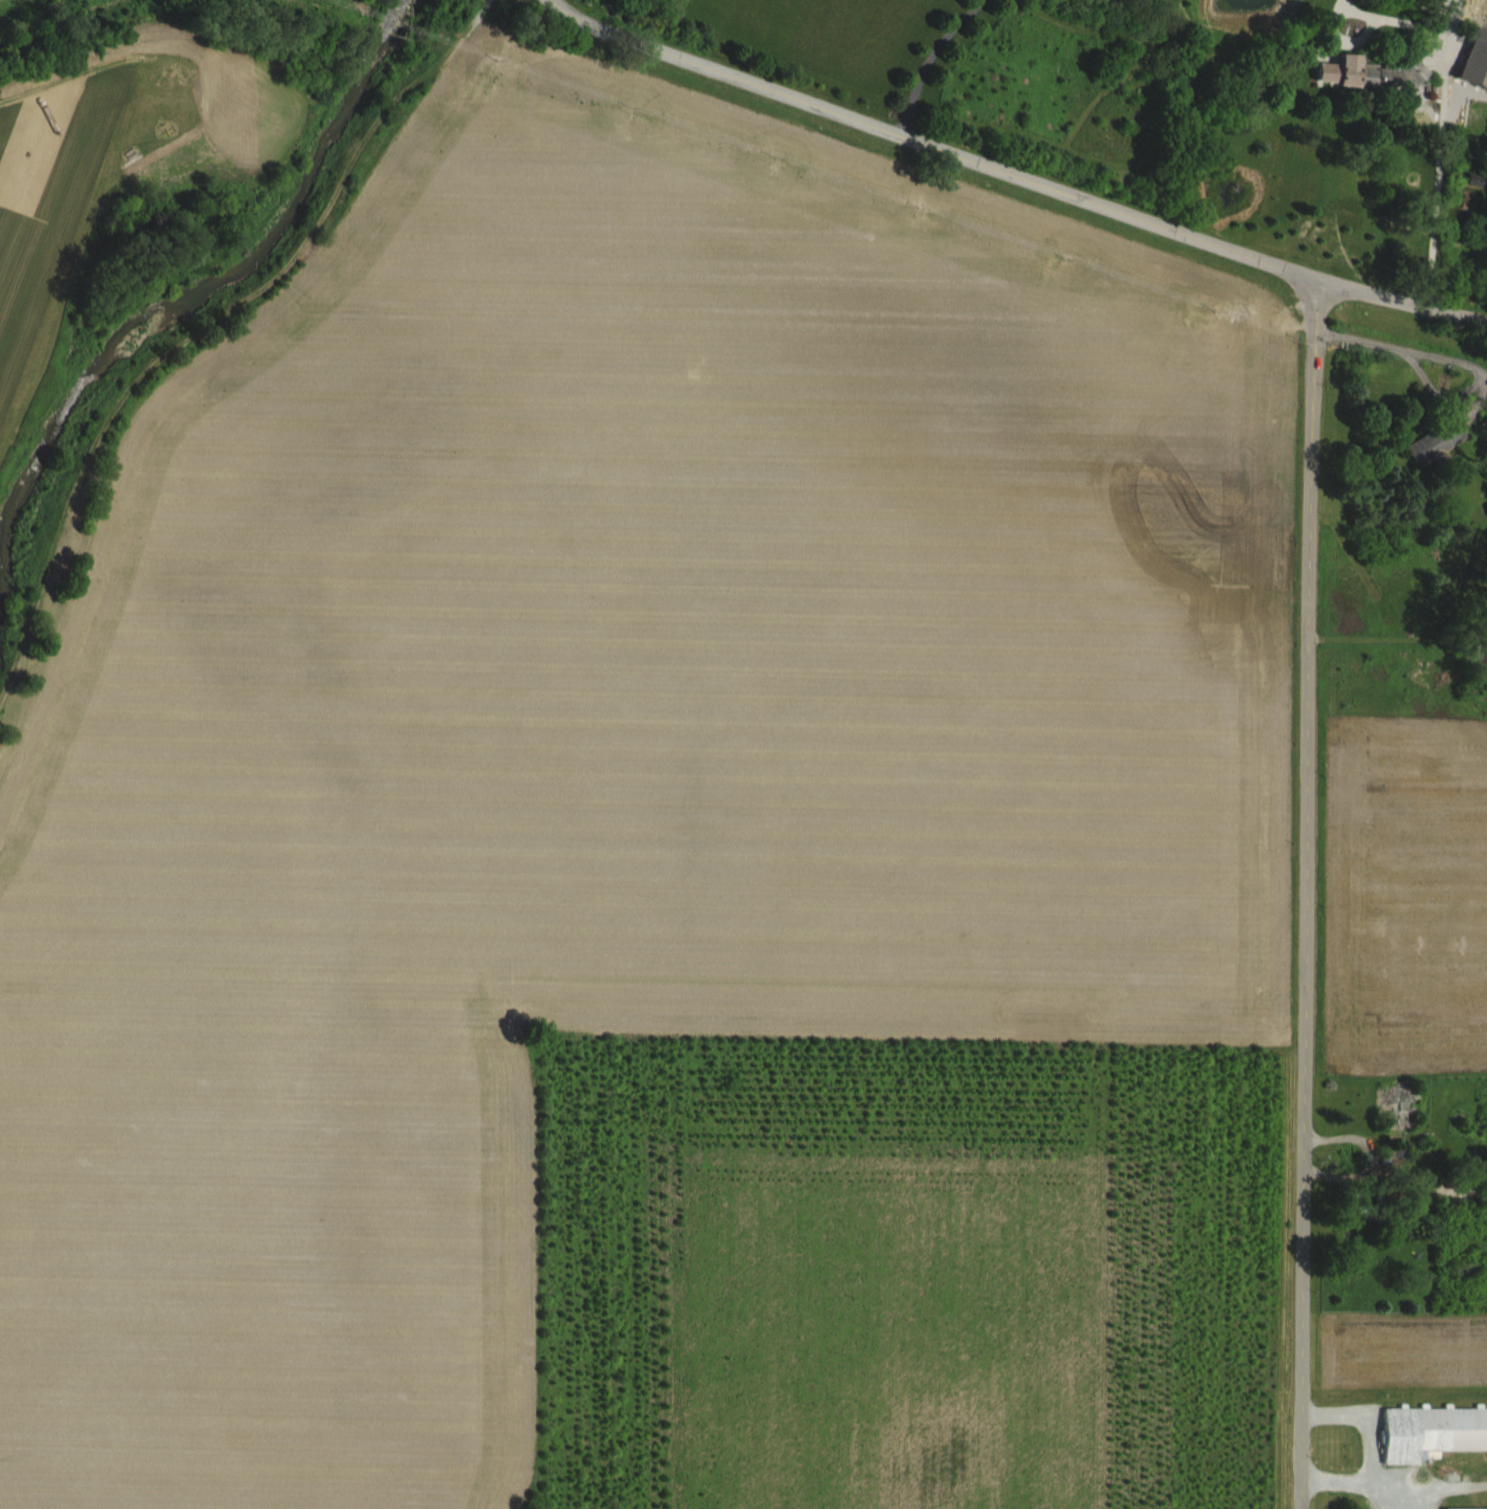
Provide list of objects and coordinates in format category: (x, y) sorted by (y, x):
building: (1153, 2)
road: (929, 58)
building: (1478, 75)
building: (1379, 86)
road: (1443, 120)
road: (1016, 172)
road: (1364, 352)
road: (1452, 371)
road: (1440, 404)
building: (1445, 457)
road: (1310, 892)
building: (1437, 1446)

